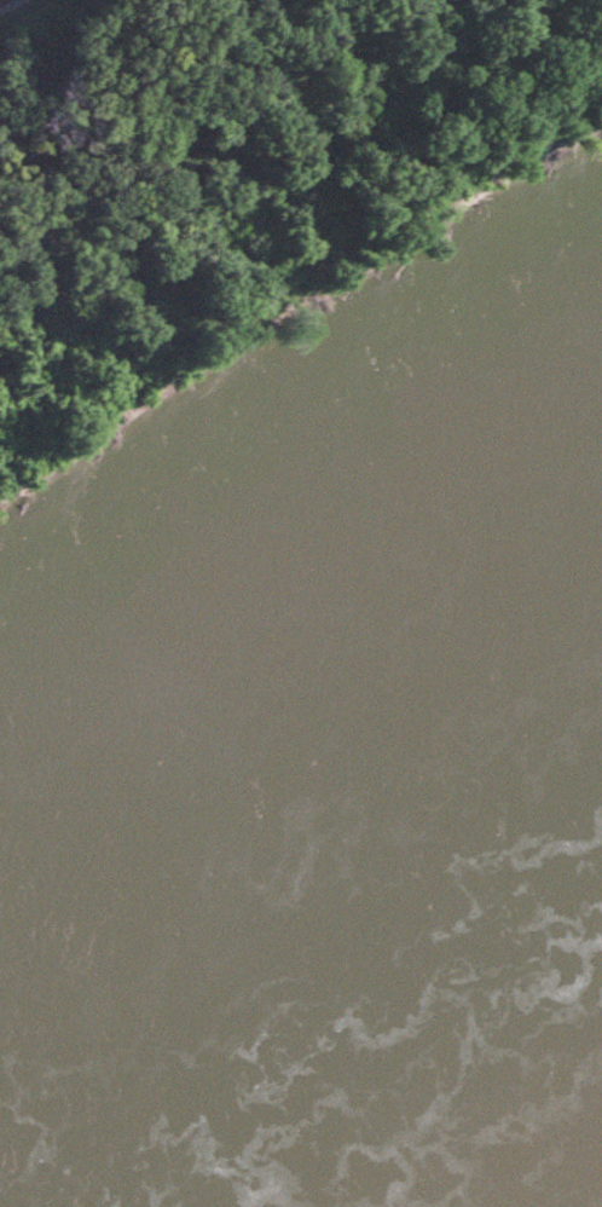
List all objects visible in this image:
river: (378, 1028)

